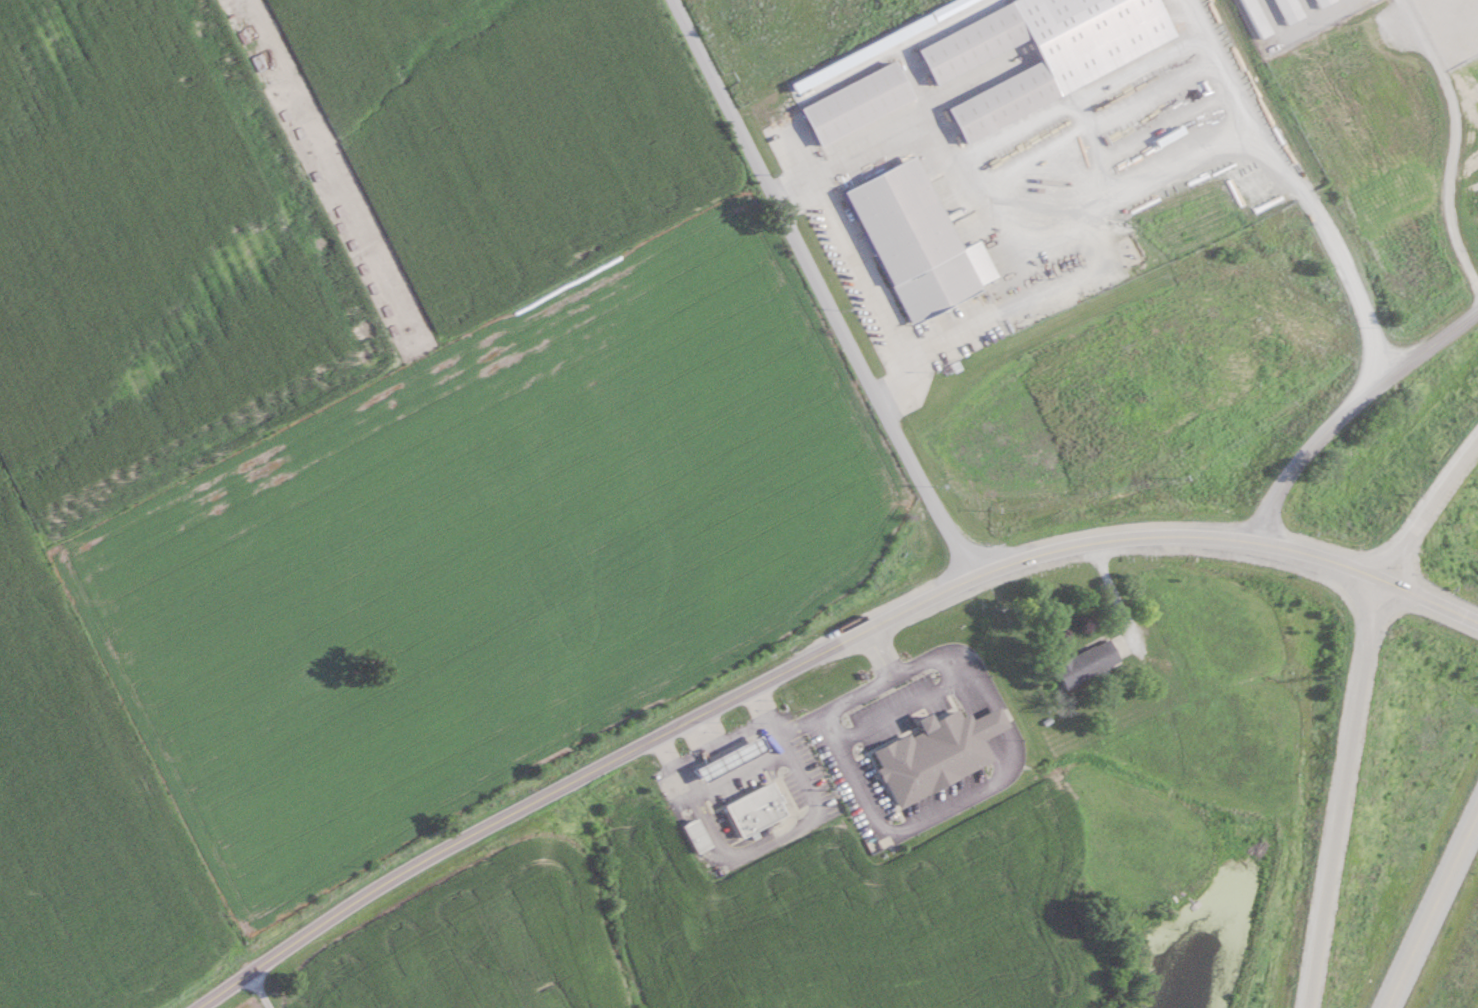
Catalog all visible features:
building: (1325, 2)
building: (1292, 10)
building: (1260, 18)
road: (1299, 25)
building: (975, 43)
building: (1005, 102)
building: (858, 103)
road: (1458, 139)
road: (953, 159)
road: (1174, 170)
building: (913, 241)
road: (862, 274)
road: (820, 289)
road: (1345, 412)
road: (1441, 481)
road: (1401, 560)
road: (1358, 565)
road: (1347, 588)
road: (1112, 596)
road: (934, 653)
road: (811, 658)
building: (1087, 663)
road: (906, 706)
road: (825, 714)
road: (800, 722)
road: (704, 731)
road: (721, 741)
building: (935, 753)
building: (730, 759)
road: (996, 779)
road: (1341, 795)
building: (755, 810)
road: (772, 836)
building: (695, 837)
road: (1433, 914)
road: (259, 990)

